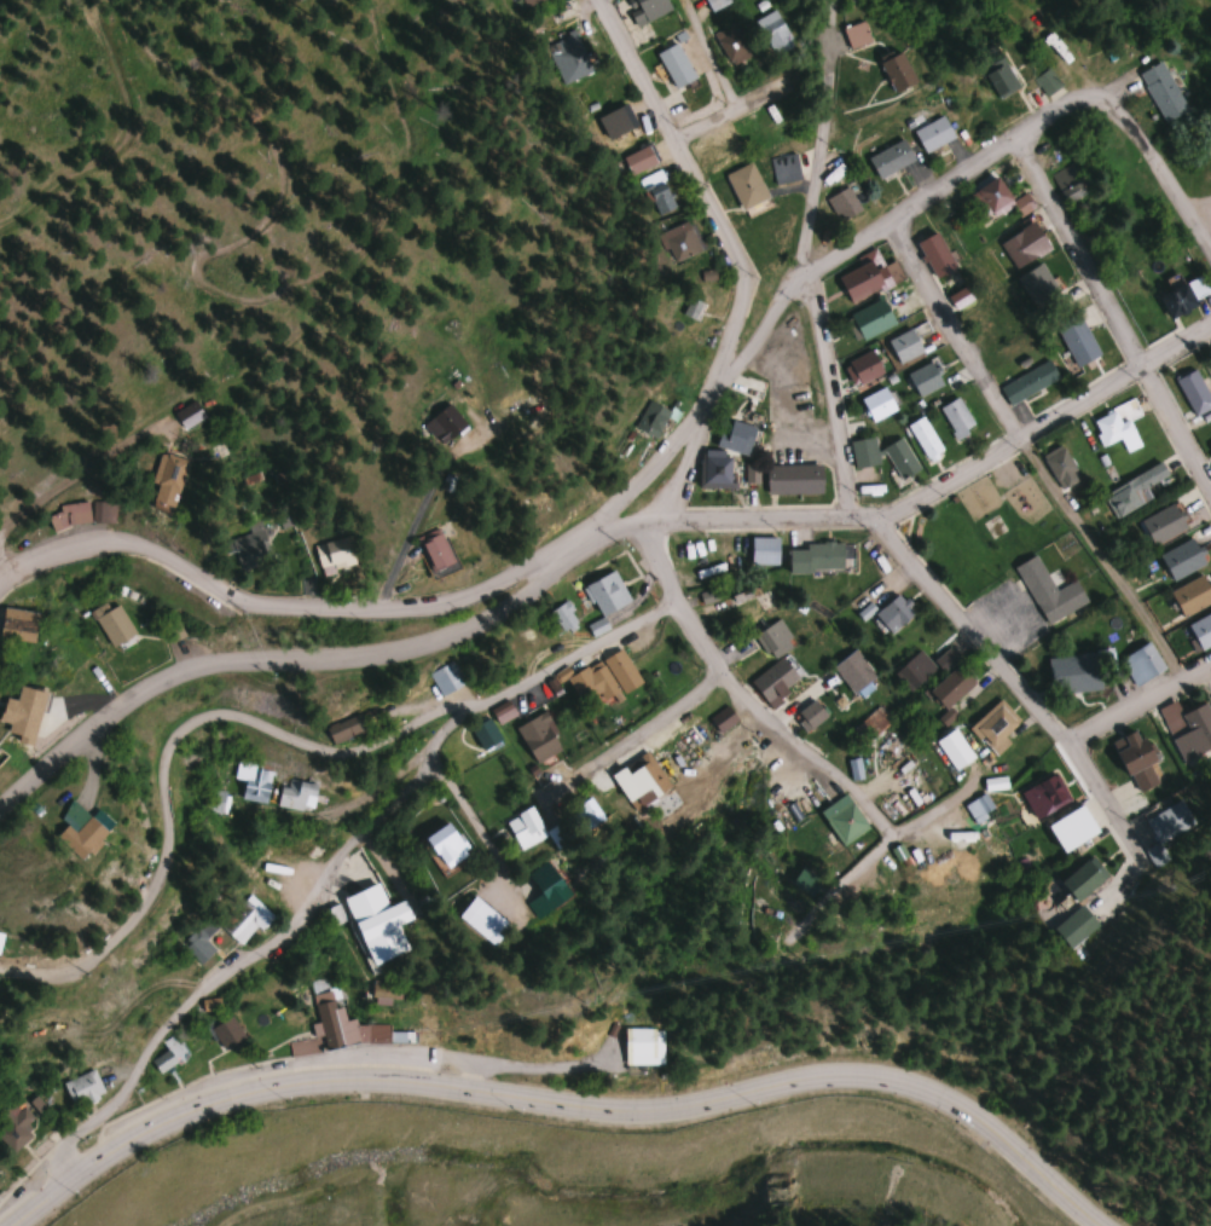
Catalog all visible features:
building: (528, 2)
building: (714, 4)
building: (645, 8)
building: (770, 27)
building: (854, 35)
building: (730, 42)
building: (568, 58)
building: (674, 64)
building: (894, 69)
building: (996, 73)
building: (1045, 81)
building: (1161, 91)
road: (725, 109)
building: (932, 133)
building: (713, 151)
building: (735, 152)
building: (890, 157)
building: (639, 158)
building: (784, 168)
road: (1161, 172)
building: (1067, 179)
building: (746, 185)
road: (950, 190)
building: (659, 195)
building: (998, 199)
building: (844, 203)
road: (809, 225)
building: (678, 241)
building: (1024, 244)
building: (934, 254)
building: (868, 276)
road: (742, 281)
building: (1039, 287)
building: (1196, 287)
building: (958, 296)
building: (1177, 300)
building: (688, 308)
building: (870, 318)
road: (1116, 320)
road: (955, 334)
building: (1076, 337)
building: (904, 345)
building: (864, 366)
building: (923, 378)
building: (1027, 382)
road: (828, 392)
building: (1193, 393)
building: (876, 404)
building: (187, 415)
building: (956, 417)
building: (650, 418)
building: (444, 424)
building: (1117, 426)
building: (735, 436)
building: (925, 438)
building: (1210, 446)
building: (864, 452)
building: (900, 458)
building: (1060, 467)
building: (714, 469)
building: (793, 479)
building: (166, 480)
building: (1132, 492)
building: (69, 515)
building: (1163, 525)
road: (612, 532)
building: (250, 547)
building: (433, 549)
building: (763, 550)
building: (334, 555)
building: (815, 557)
building: (1181, 559)
building: (1048, 591)
building: (605, 592)
building: (1190, 595)
building: (894, 612)
building: (563, 617)
building: (17, 624)
building: (111, 624)
building: (1200, 631)
building: (773, 638)
building: (945, 659)
road: (284, 660)
building: (1143, 663)
building: (914, 670)
building: (853, 671)
building: (1073, 672)
building: (604, 676)
building: (446, 678)
building: (773, 682)
road: (1014, 682)
building: (950, 687)
road: (738, 693)
road: (1137, 705)
building: (21, 713)
building: (810, 715)
building: (723, 718)
building: (993, 723)
building: (870, 725)
road: (271, 727)
building: (344, 728)
building: (1188, 728)
building: (485, 735)
building: (538, 736)
road: (631, 738)
building: (952, 750)
building: (1134, 757)
building: (638, 779)
building: (253, 782)
building: (296, 794)
building: (1043, 794)
building: (214, 800)
building: (978, 808)
building: (586, 812)
road: (473, 815)
building: (842, 819)
building: (523, 827)
building: (1071, 827)
building: (1166, 828)
building: (76, 829)
building: (445, 844)
building: (309, 860)
building: (273, 874)
building: (1080, 879)
building: (804, 880)
building: (543, 889)
building: (244, 919)
building: (480, 920)
building: (373, 925)
building: (1073, 926)
road: (261, 944)
building: (377, 991)
building: (209, 1005)
building: (337, 1029)
building: (226, 1033)
building: (643, 1046)
building: (162, 1062)
building: (81, 1088)
road: (558, 1105)
building: (13, 1127)

